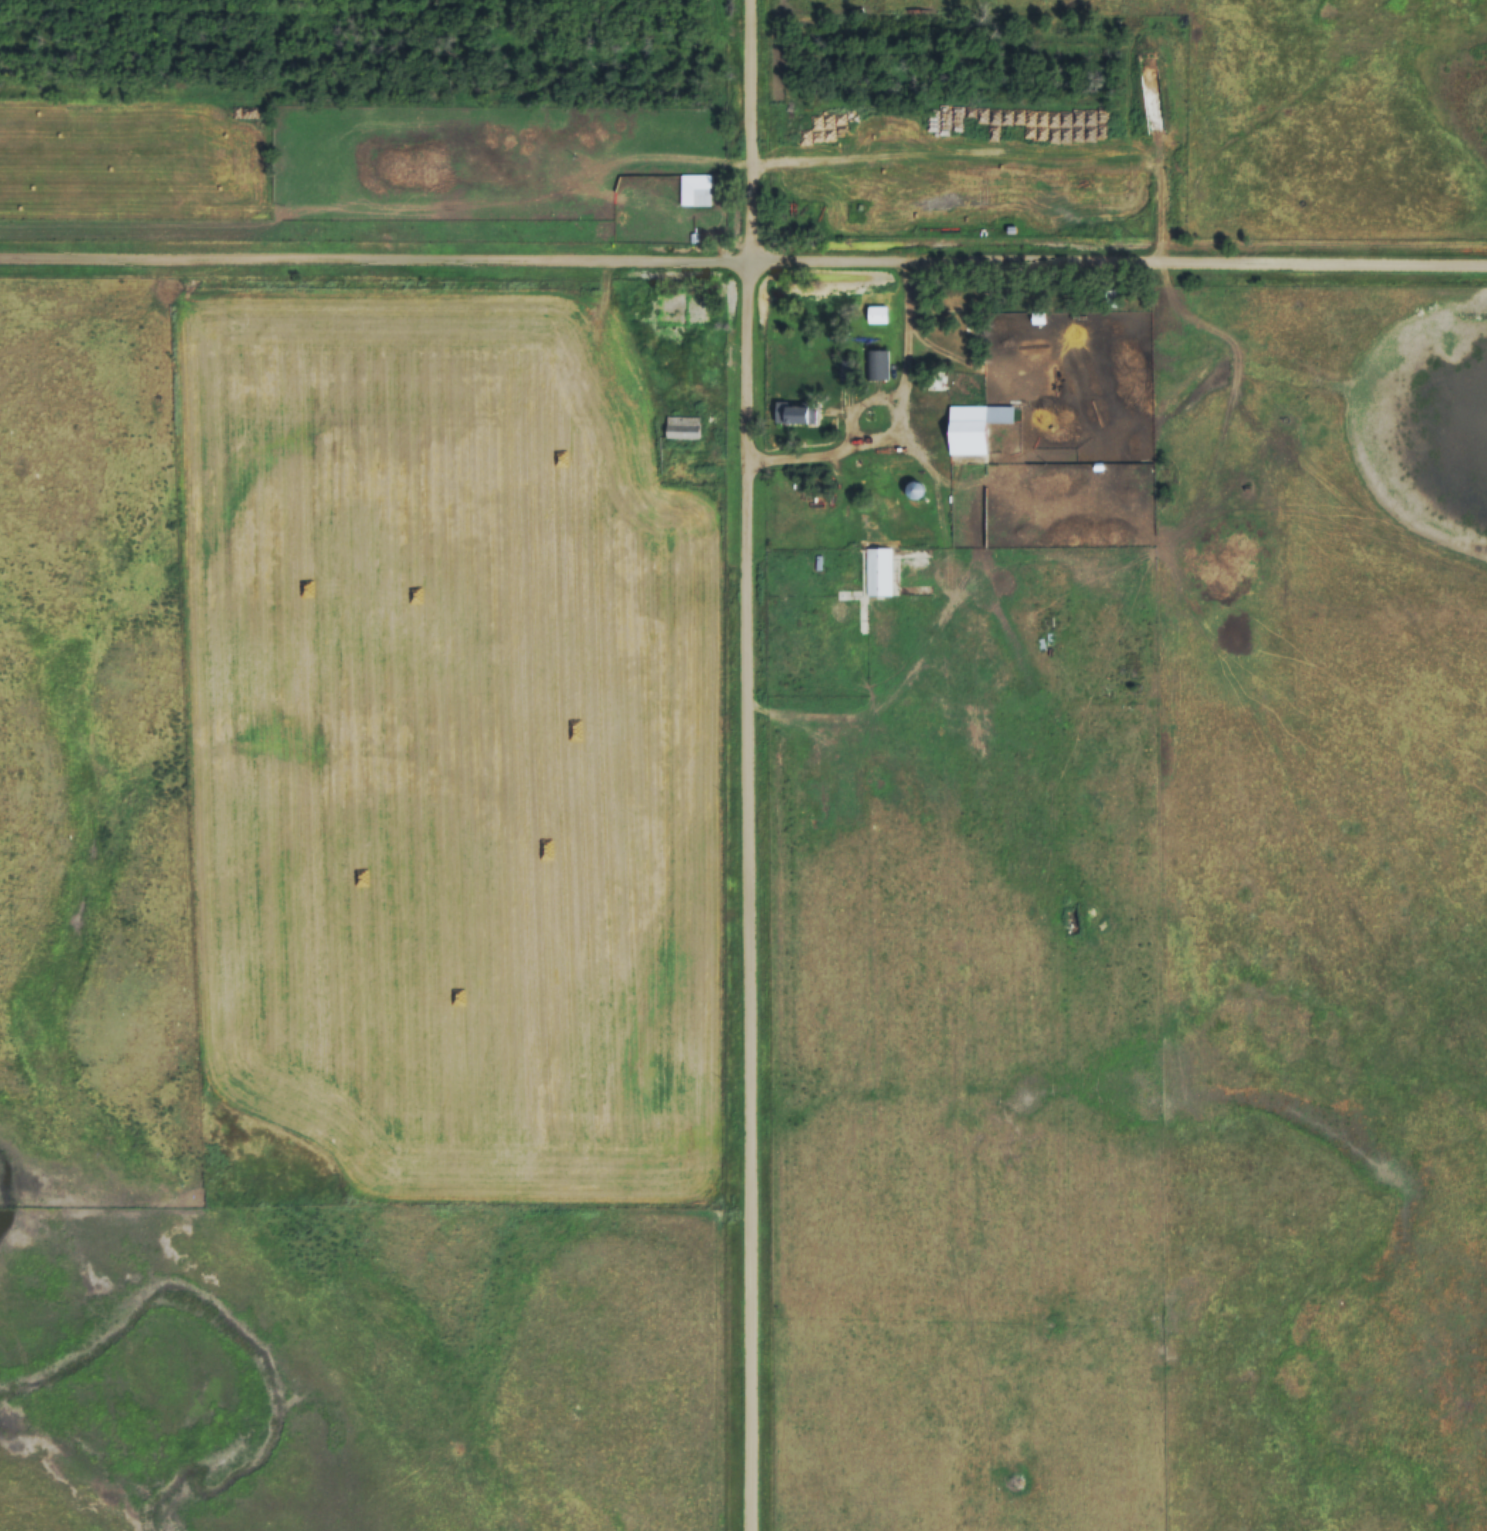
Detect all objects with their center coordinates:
road: (752, 132)
building: (694, 190)
road: (742, 265)
building: (1111, 297)
building: (875, 314)
building: (876, 364)
building: (789, 413)
building: (972, 426)
building: (681, 427)
building: (913, 490)
building: (877, 571)
road: (754, 898)

